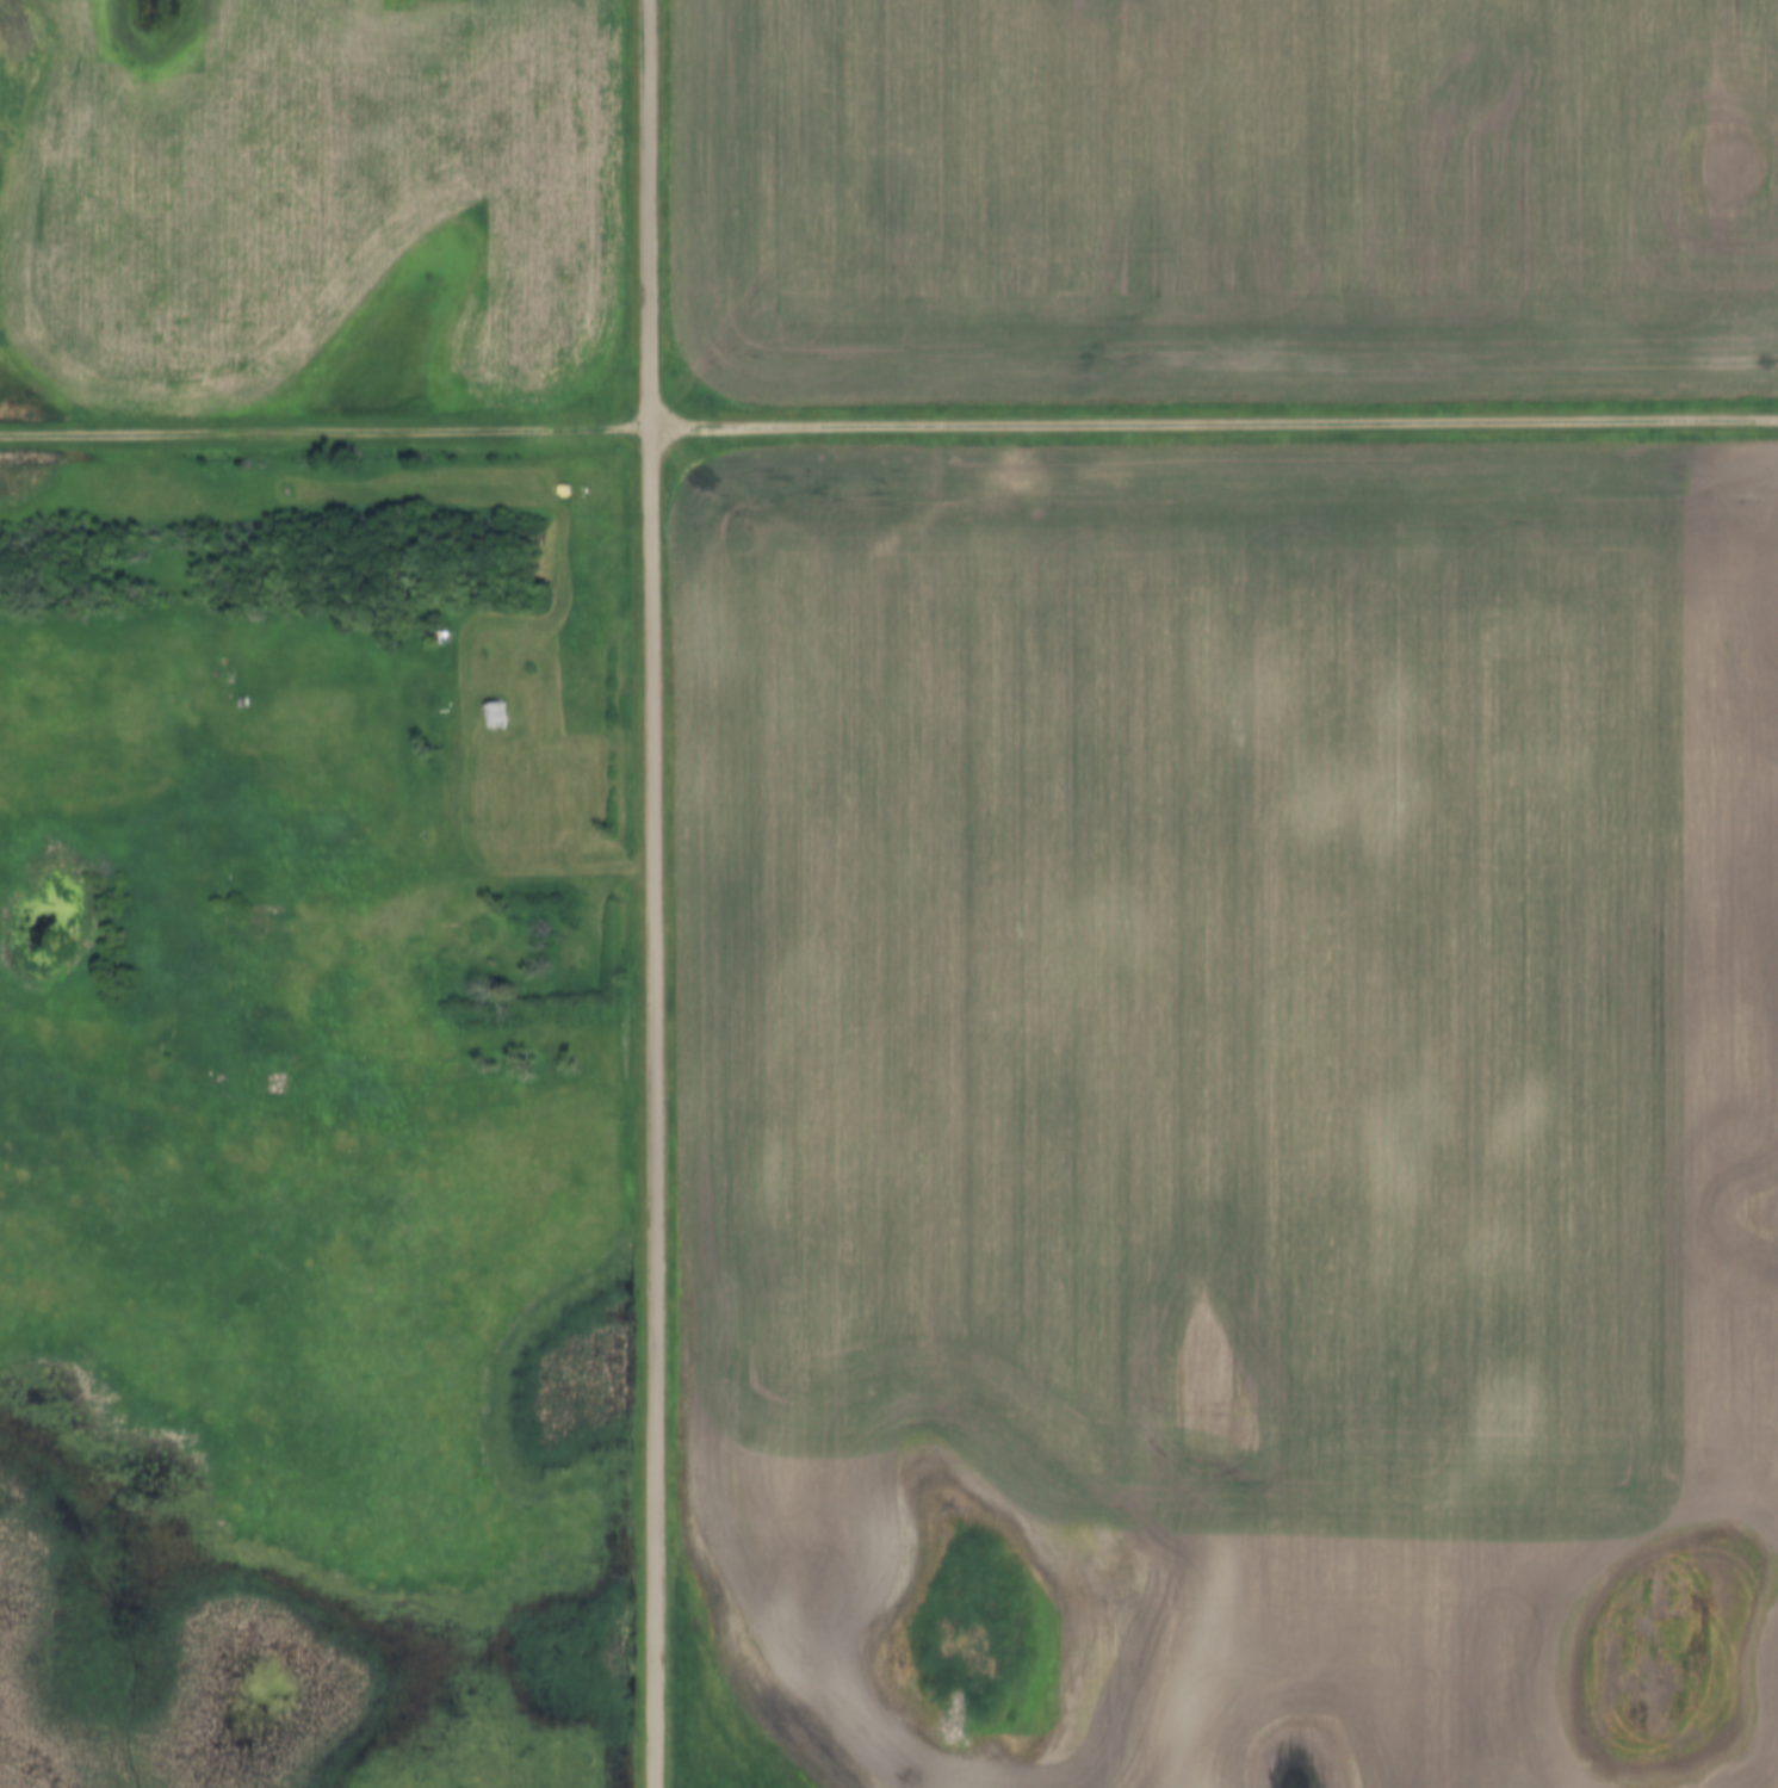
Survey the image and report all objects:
road: (888, 429)
building: (562, 490)
road: (428, 687)
road: (568, 876)
road: (649, 893)

